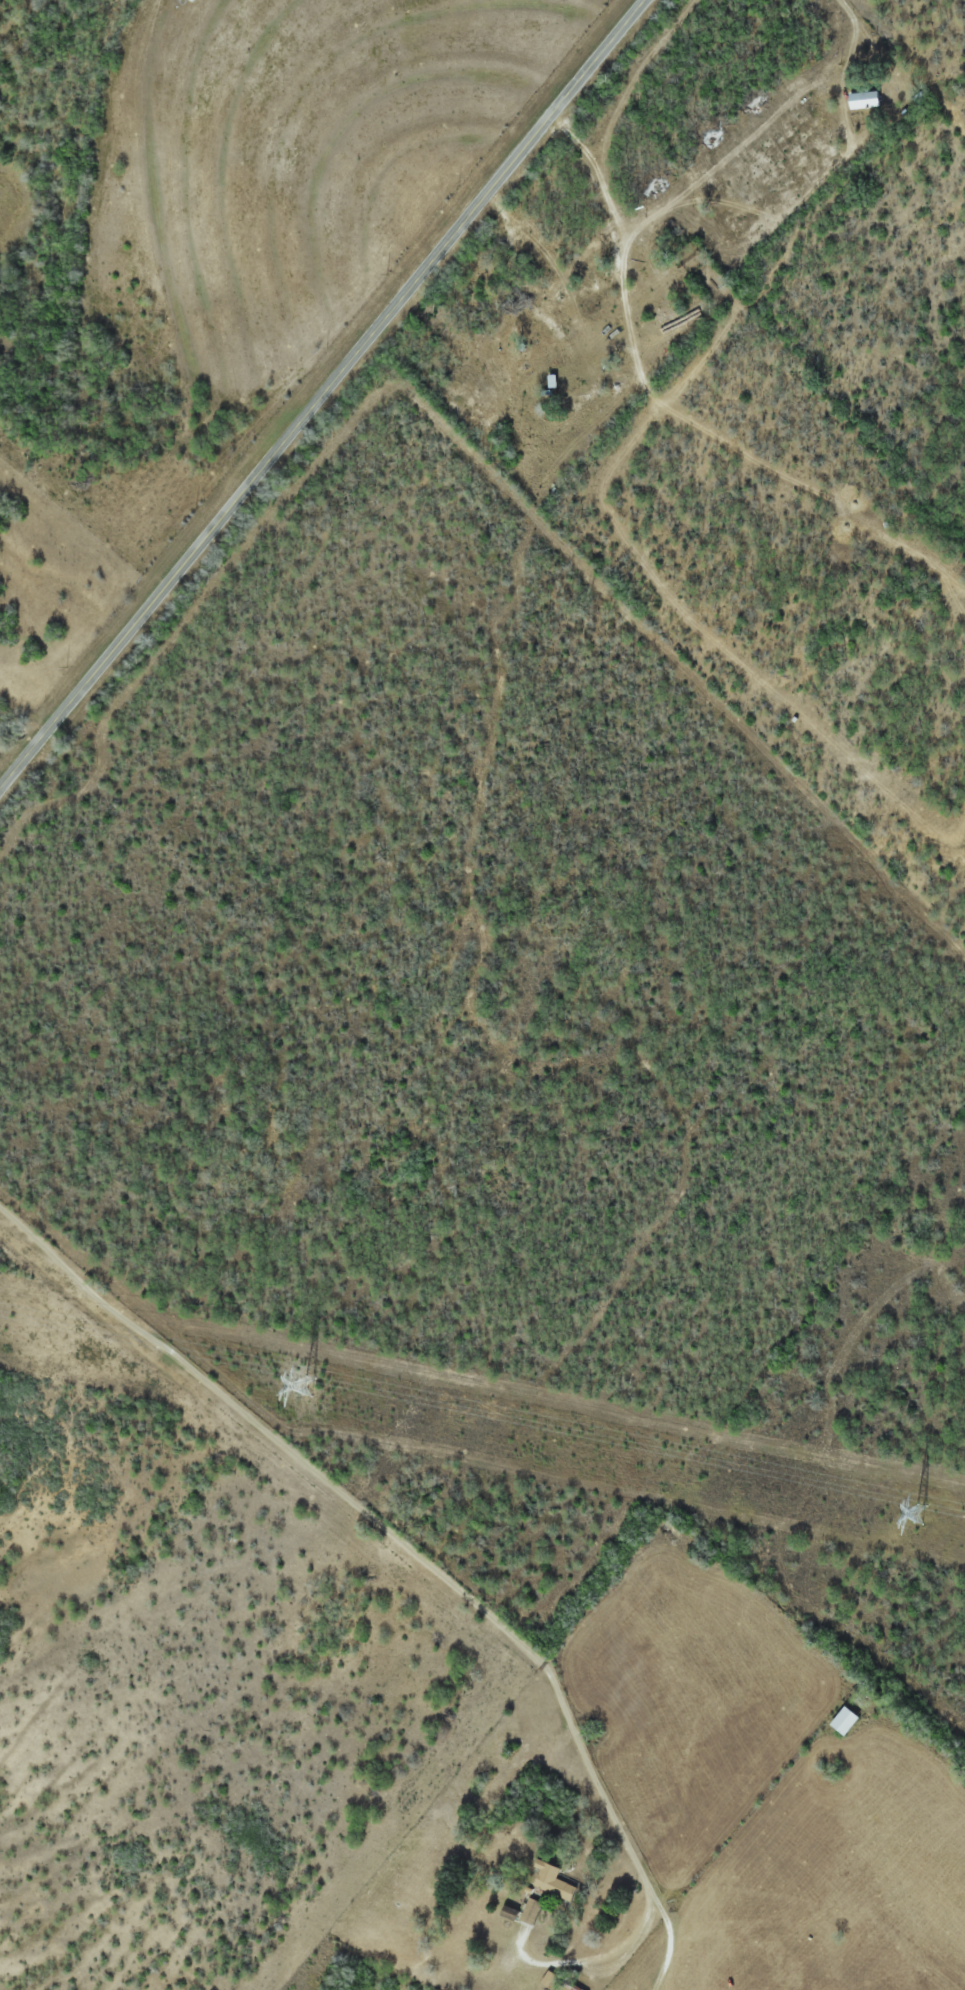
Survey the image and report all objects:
building: (863, 100)
road: (322, 395)
building: (575, 400)
power tower: (307, 1387)
power tower: (920, 1516)
building: (845, 1721)
building: (551, 1882)
building: (524, 1911)

